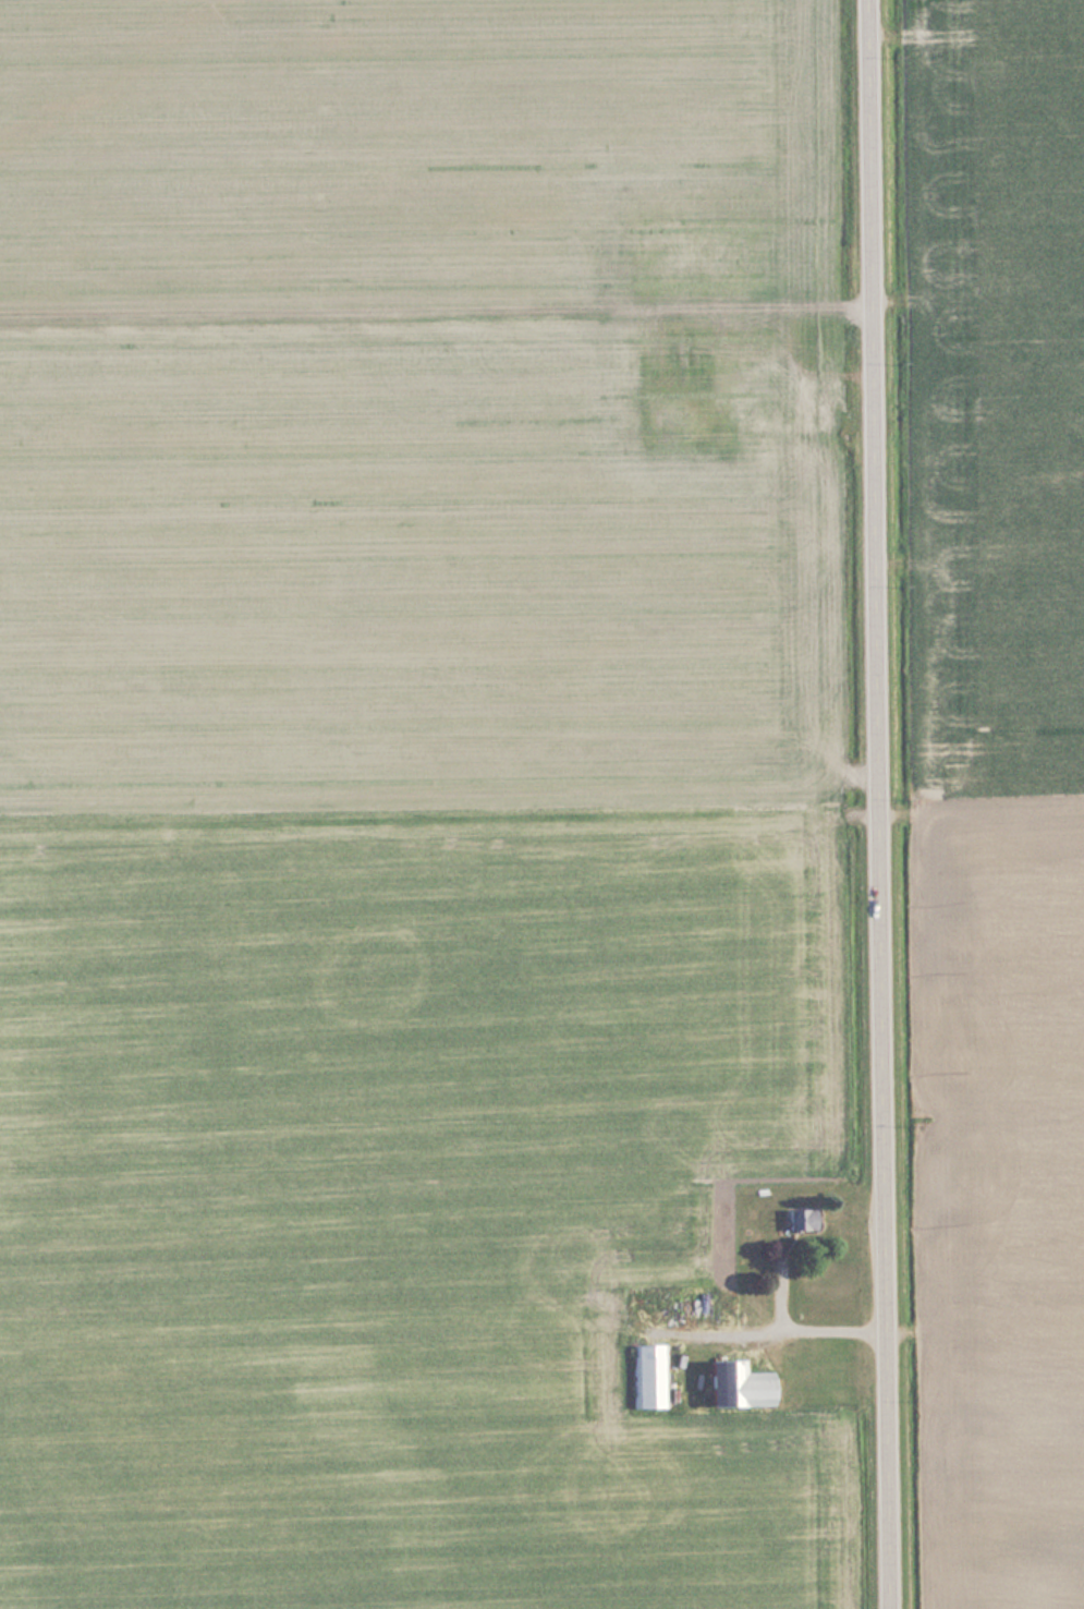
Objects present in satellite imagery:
building: (763, 355)
building: (763, 408)
building: (667, 415)
road: (876, 804)
building: (799, 1219)
building: (692, 1306)
building: (649, 1375)
building: (735, 1384)

